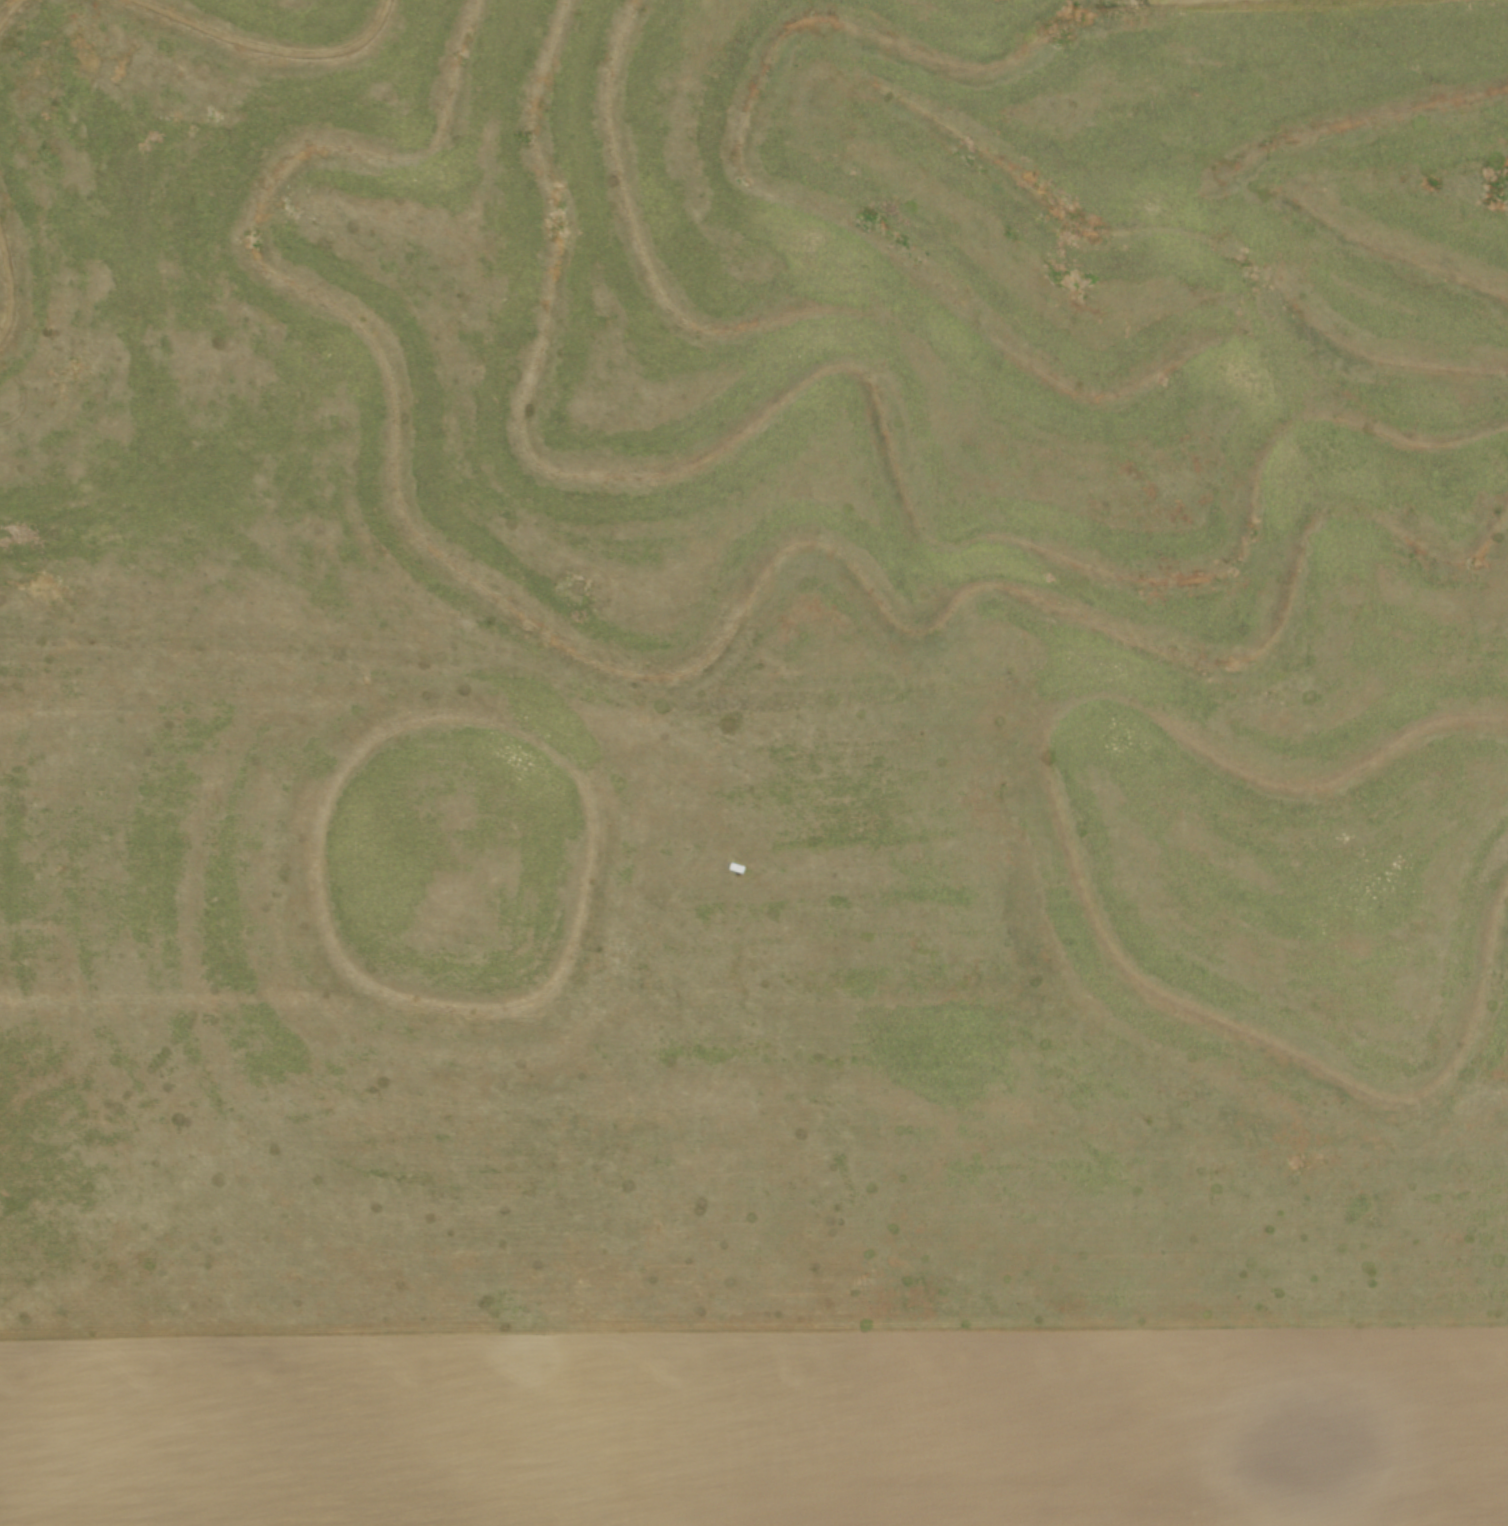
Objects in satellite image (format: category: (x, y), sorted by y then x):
crop: (767, 1429)

